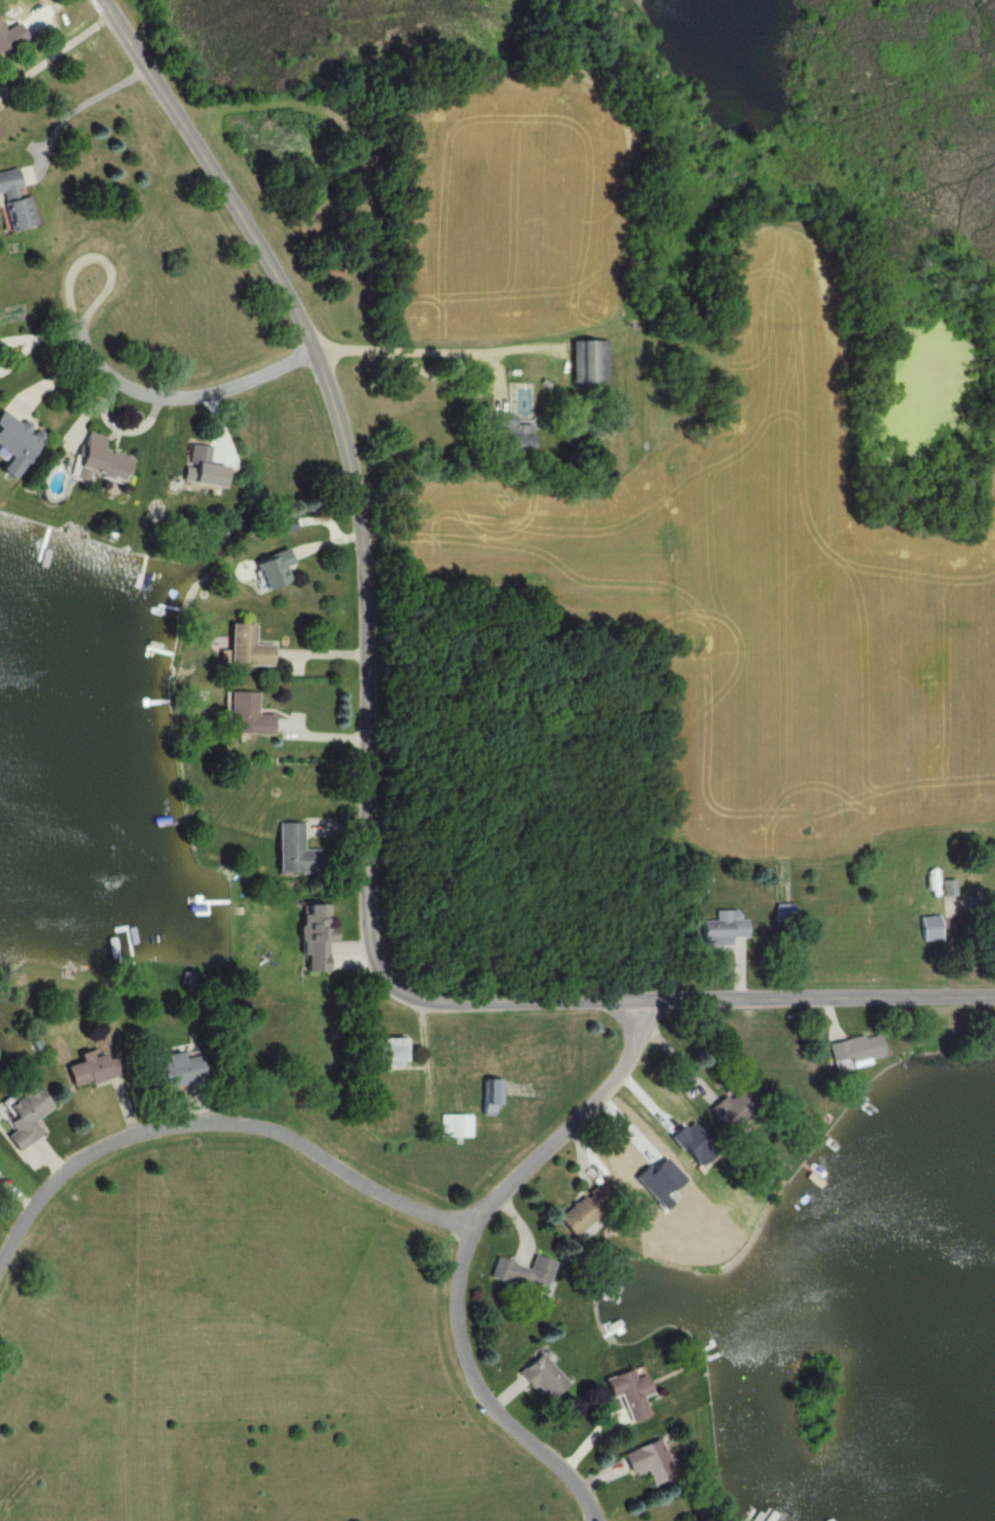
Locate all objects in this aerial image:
building: (3, 41)
road: (75, 108)
building: (14, 203)
road: (58, 334)
road: (19, 337)
road: (20, 355)
road: (474, 361)
building: (587, 363)
road: (182, 395)
building: (509, 435)
building: (15, 443)
building: (95, 460)
building: (199, 469)
building: (271, 570)
building: (245, 648)
building: (244, 716)
road: (365, 766)
building: (292, 852)
building: (946, 888)
building: (991, 901)
building: (722, 929)
building: (928, 929)
building: (312, 938)
building: (852, 1050)
building: (383, 1052)
building: (90, 1069)
building: (178, 1071)
building: (487, 1097)
building: (729, 1109)
building: (23, 1116)
road: (213, 1121)
building: (453, 1127)
building: (583, 1208)
road: (463, 1251)
building: (520, 1274)
building: (540, 1377)
building: (627, 1394)
building: (645, 1462)

